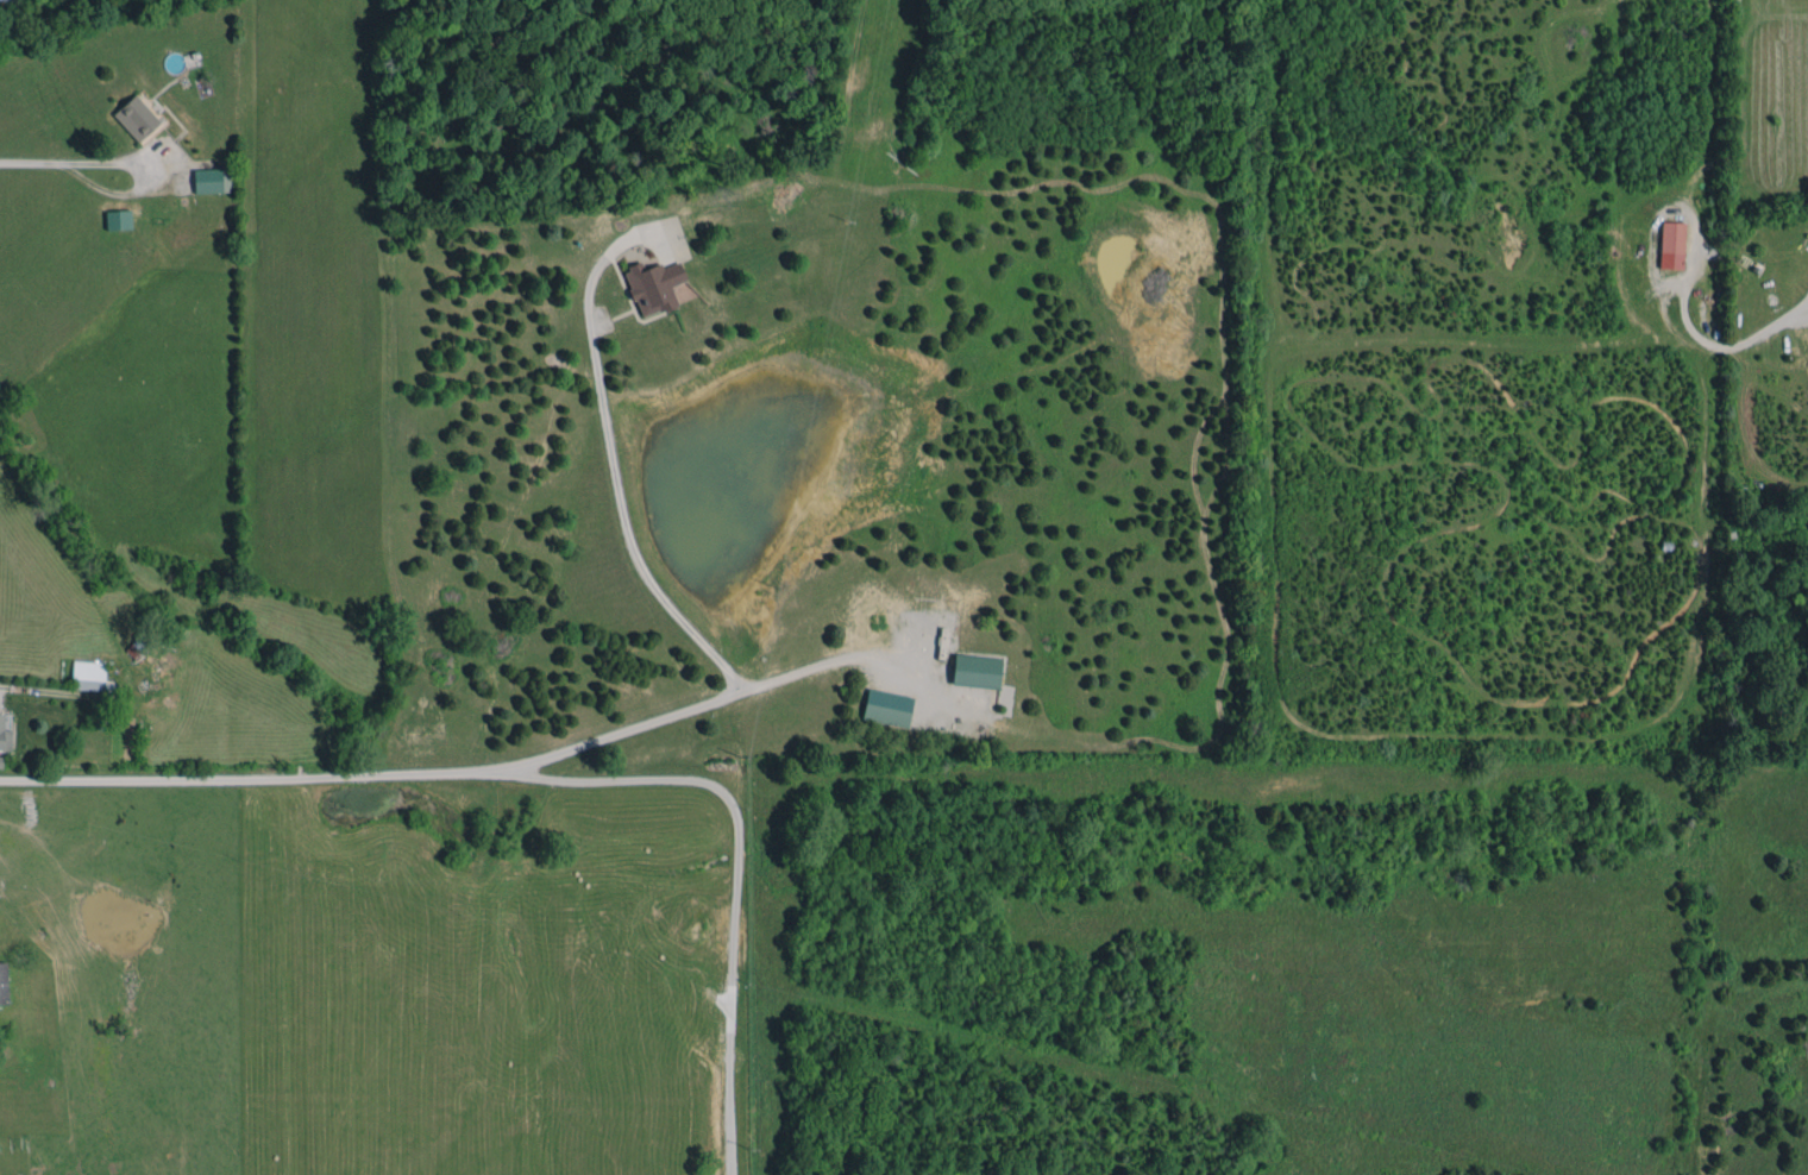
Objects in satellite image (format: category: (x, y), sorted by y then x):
building: (4, 0)
building: (137, 117)
road: (57, 161)
building: (212, 180)
building: (118, 219)
building: (1671, 244)
building: (653, 285)
road: (616, 473)
road: (839, 658)
building: (975, 670)
building: (89, 676)
road: (38, 693)
building: (886, 706)
building: (4, 739)
road: (376, 774)
road: (737, 867)
building: (2, 982)

